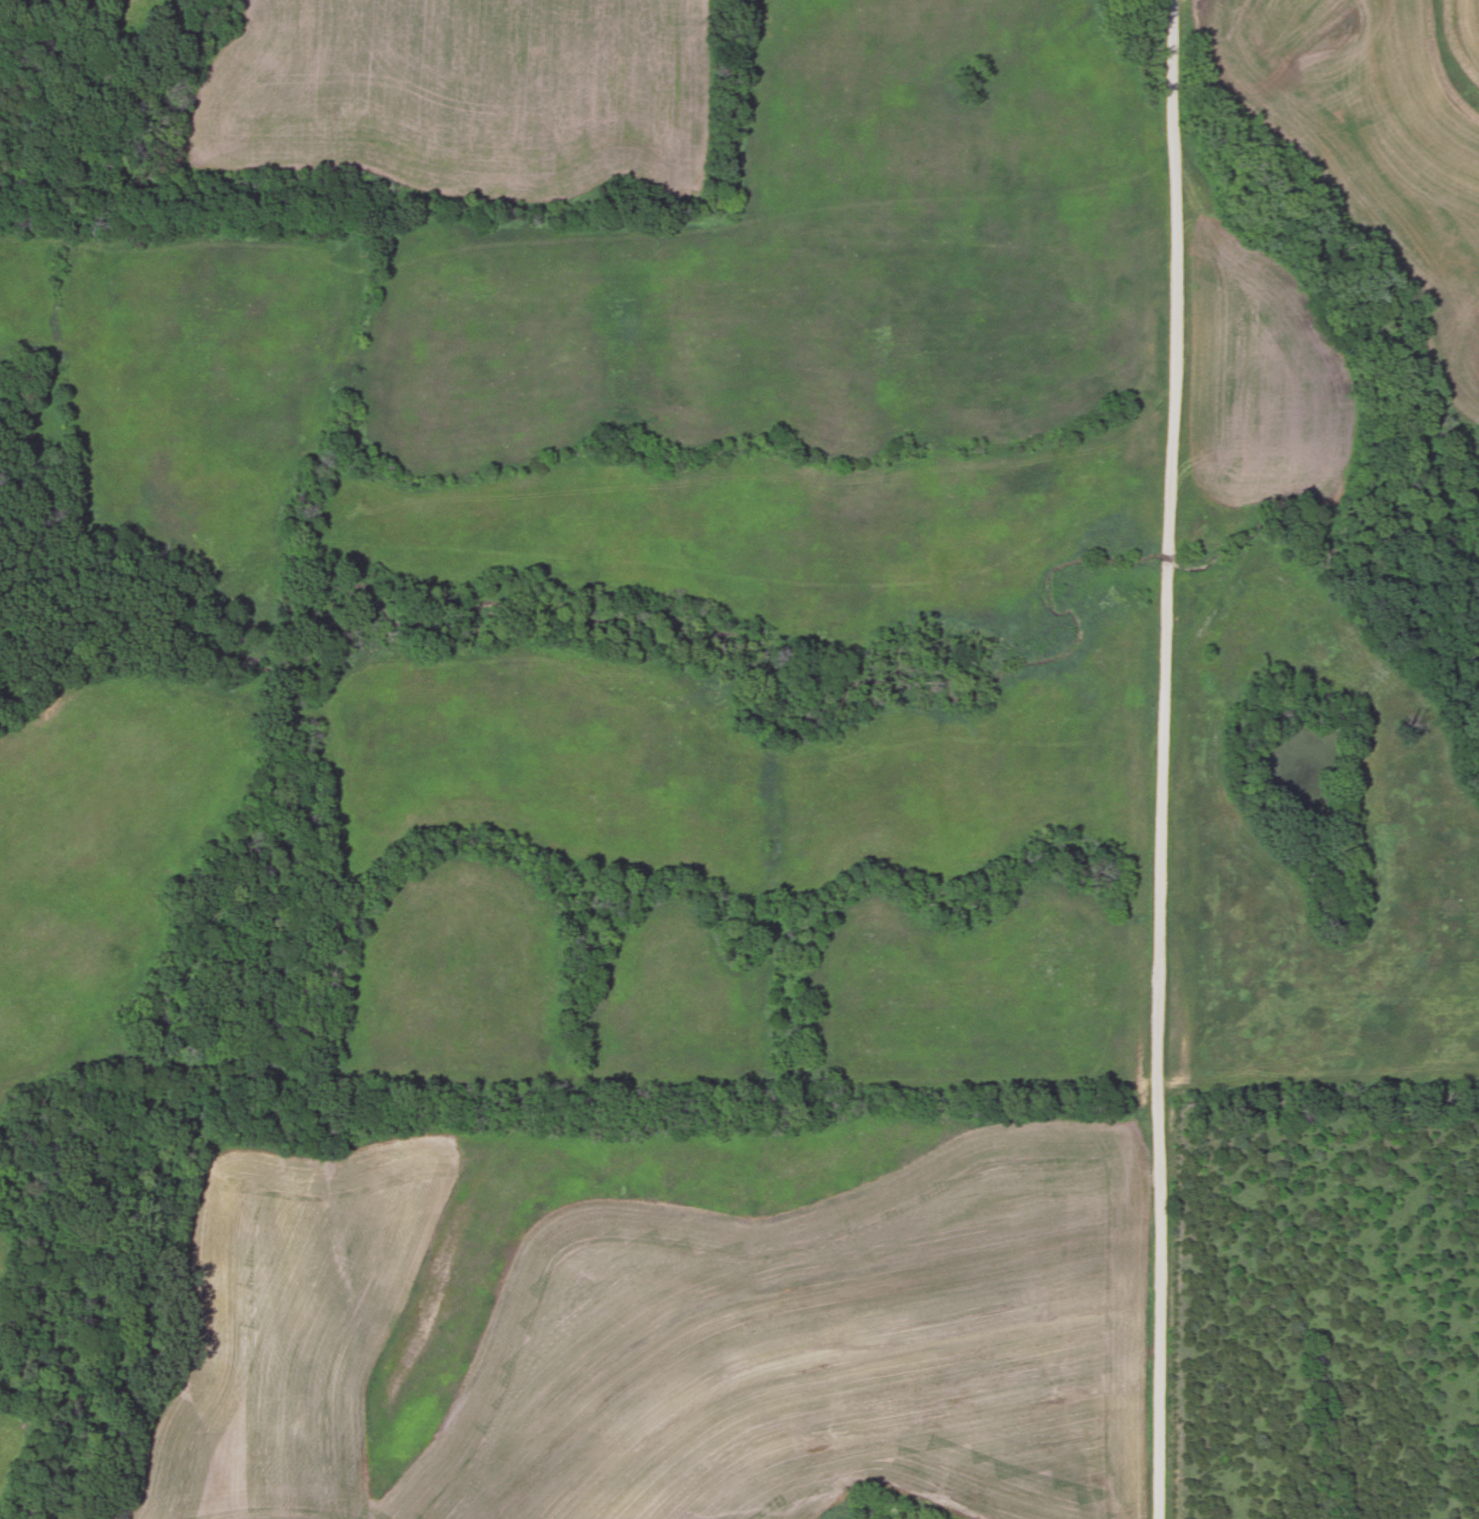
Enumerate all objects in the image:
road: (1162, 759)

